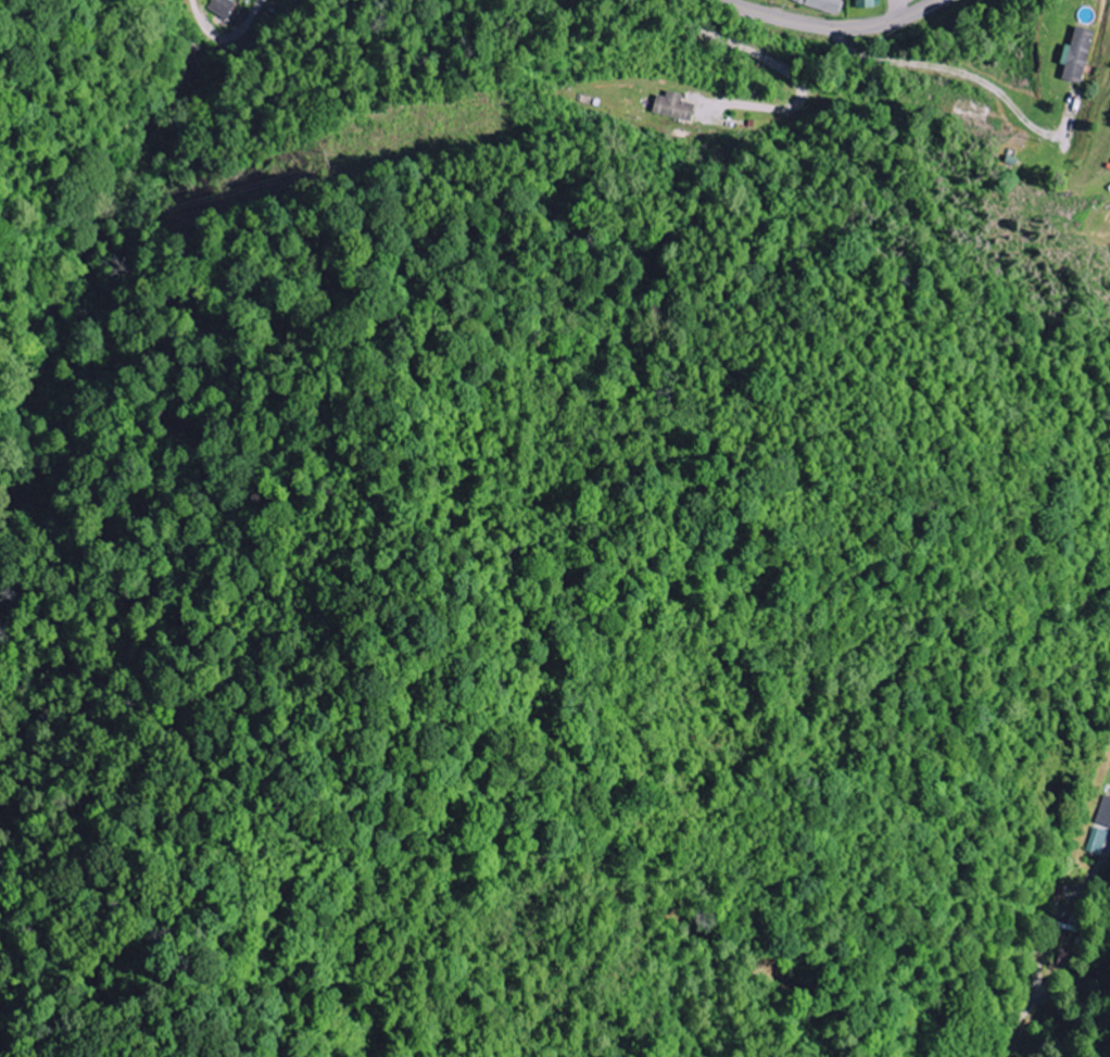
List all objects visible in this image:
road: (721, 2)
building: (867, 3)
road: (897, 3)
building: (824, 4)
building: (223, 8)
road: (893, 11)
road: (197, 20)
road: (242, 27)
road: (823, 30)
building: (1079, 54)
building: (677, 106)
building: (1109, 122)
power tower: (319, 161)
building: (1103, 811)
building: (1097, 841)
road: (1081, 962)

